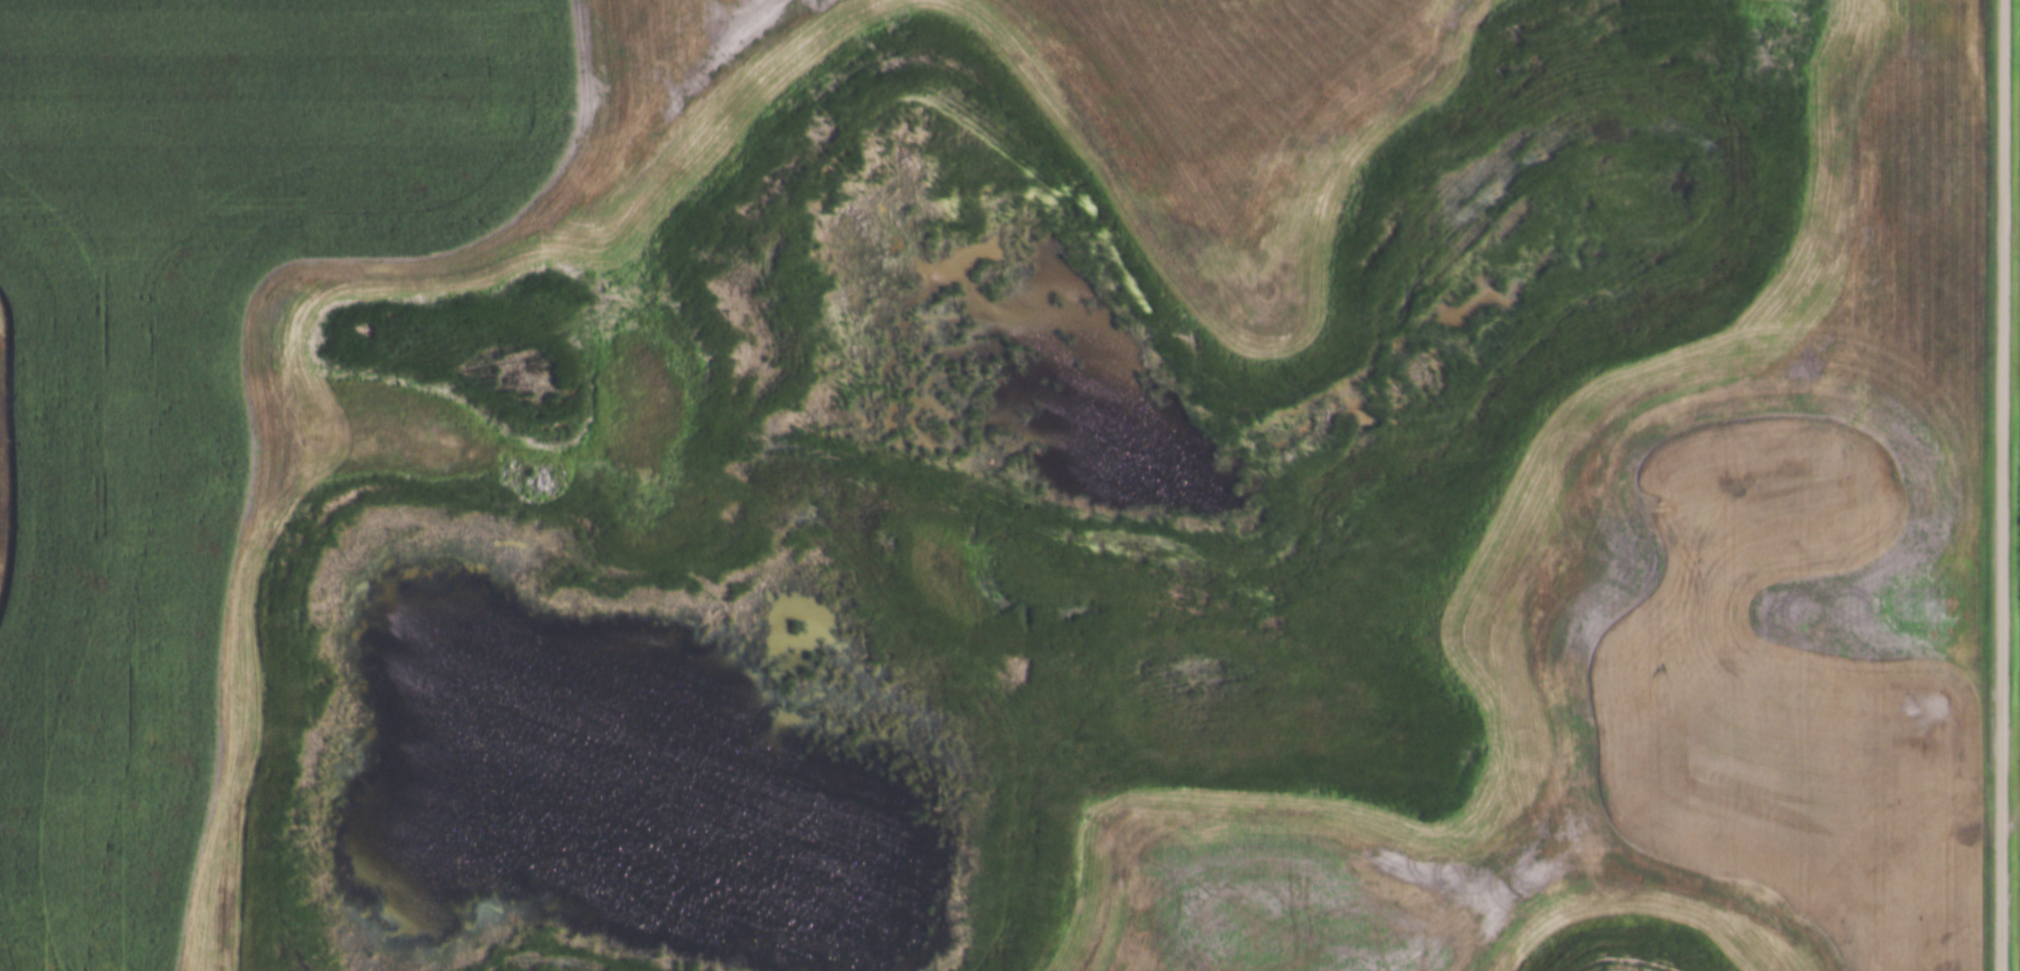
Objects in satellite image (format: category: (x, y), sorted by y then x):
road: (2005, 485)

